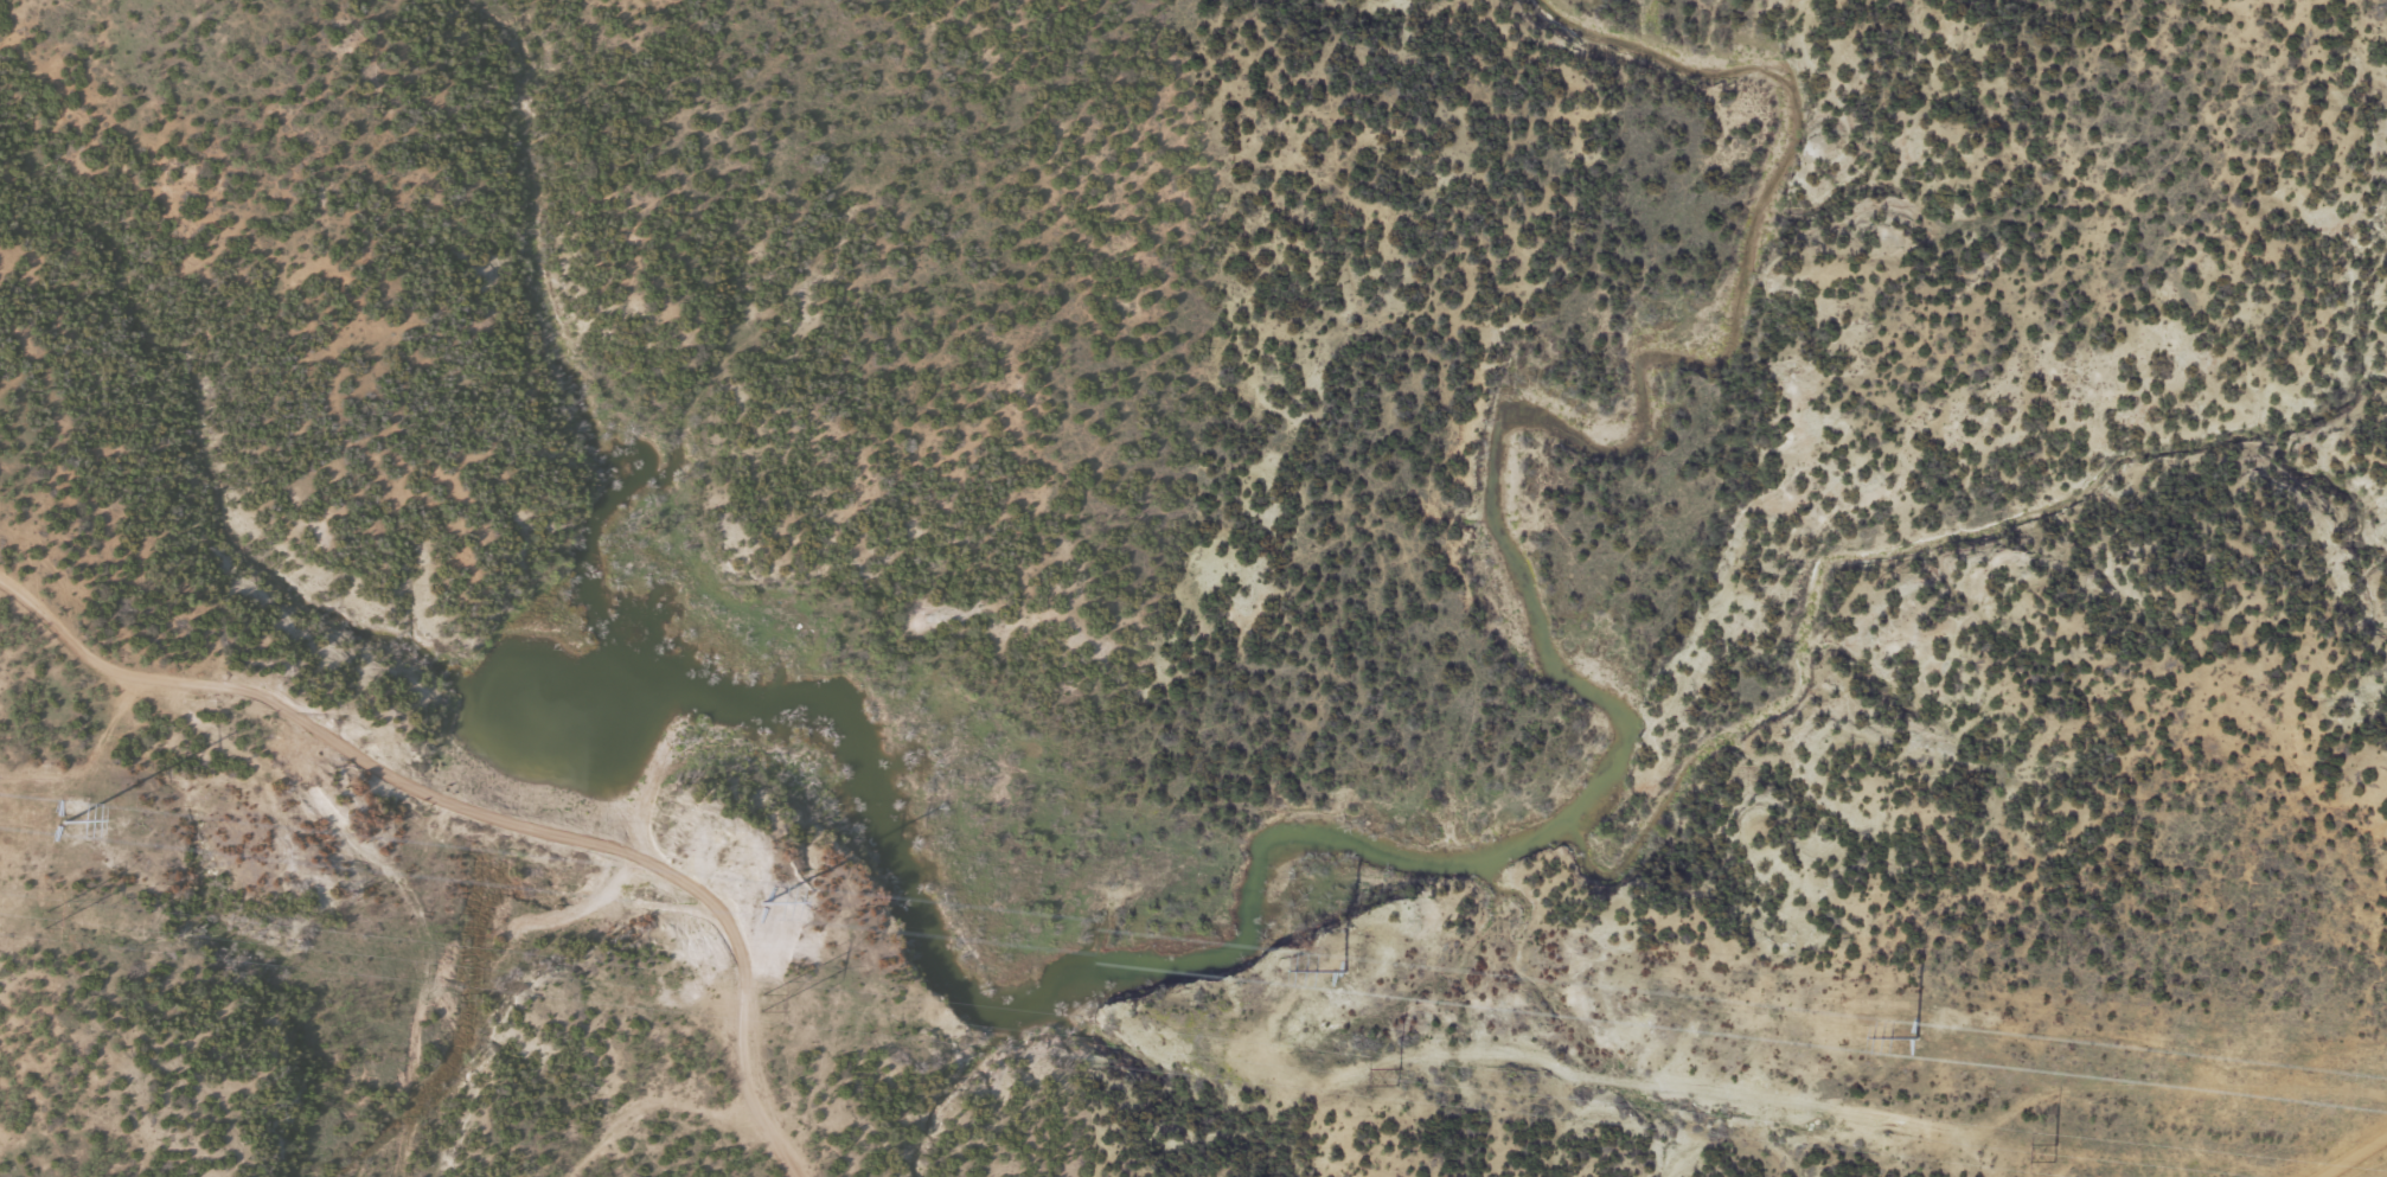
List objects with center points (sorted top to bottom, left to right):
power tower: (63, 823)
power tower: (760, 904)
power tower: (43, 919)
power tower: (1346, 971)
power tower: (760, 1002)
power tower: (1915, 1036)
power tower: (1401, 1076)
road: (2341, 1143)
power tower: (2054, 1154)

